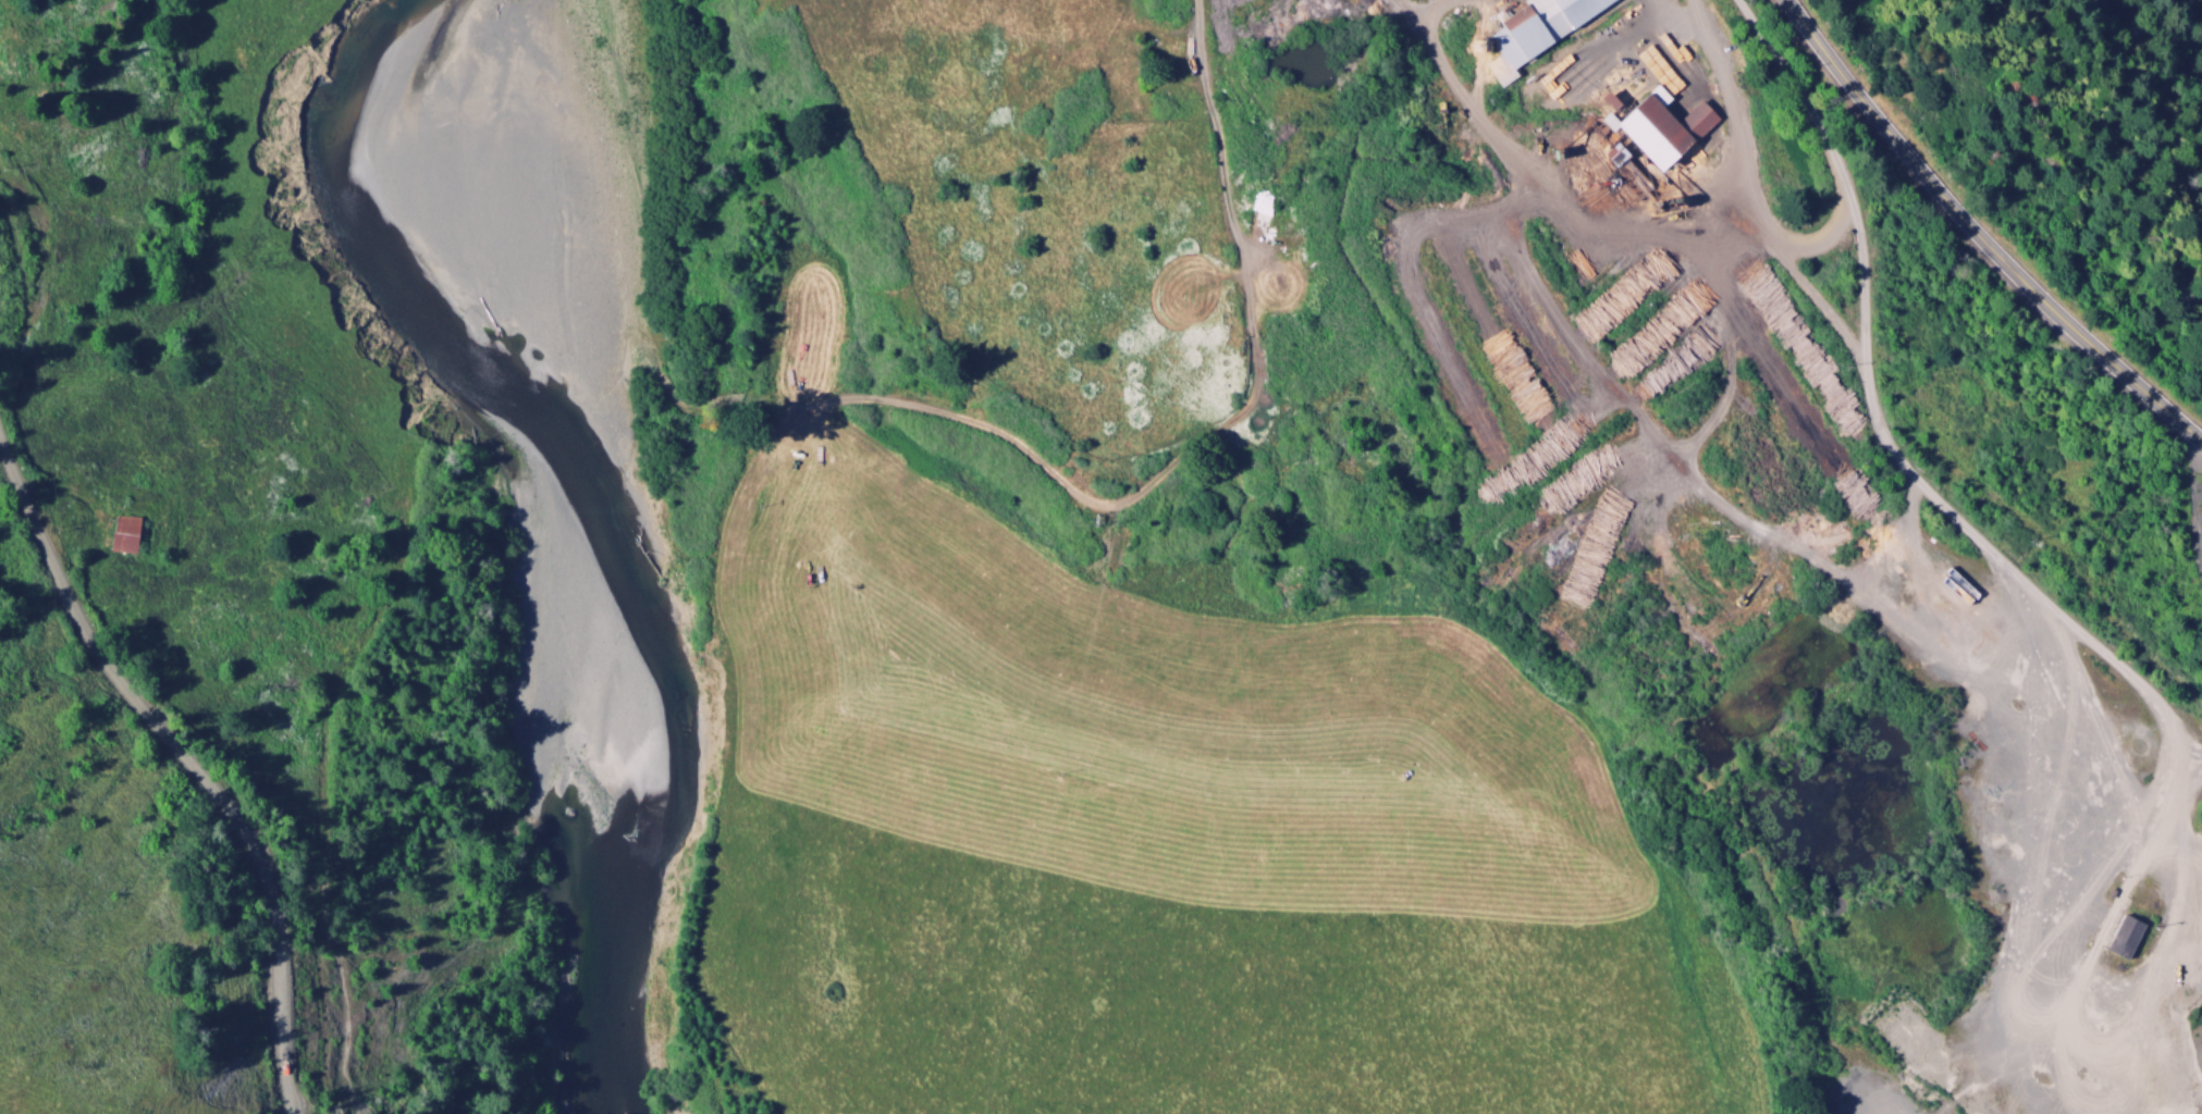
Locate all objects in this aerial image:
road: (1678, 21)
road: (1699, 21)
building: (1531, 30)
building: (1651, 126)
road: (2000, 223)
road: (1857, 228)
road: (1777, 240)
railway: (1658, 244)
road: (1723, 256)
road: (1603, 373)
road: (1200, 442)
road: (2193, 497)
building: (125, 535)
river: (571, 556)
road: (2038, 595)
railway: (2183, 728)
road: (189, 768)
road: (2154, 773)
road: (2174, 813)
road: (2030, 825)
building: (2119, 937)
road: (2089, 954)

